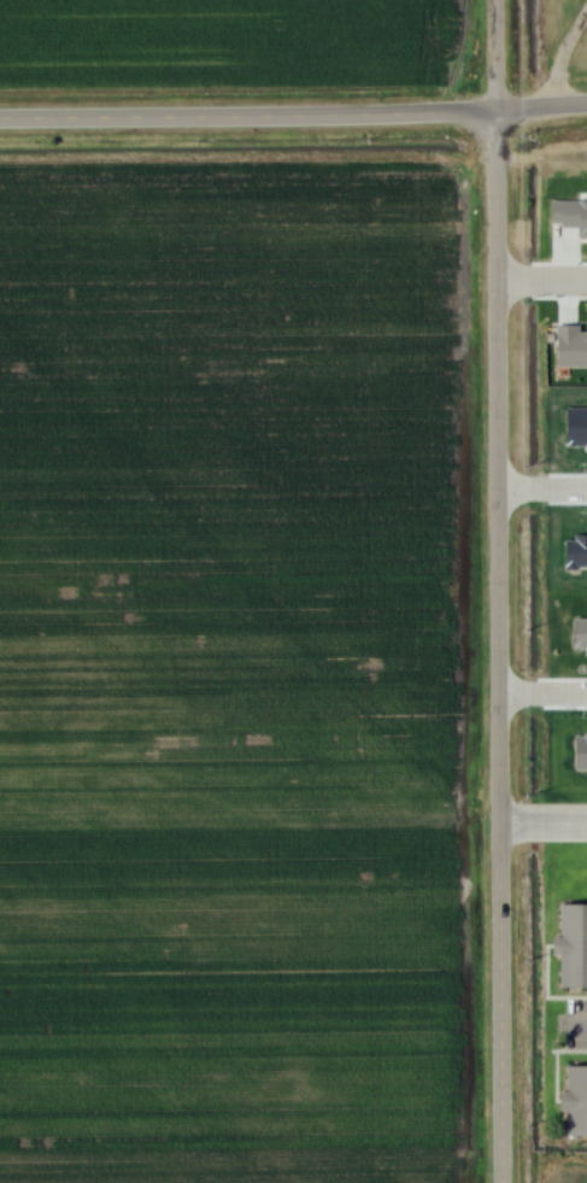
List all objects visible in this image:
road: (494, 55)
road: (562, 58)
road: (541, 107)
road: (247, 115)
building: (568, 215)
road: (541, 285)
building: (567, 345)
road: (497, 463)
road: (542, 487)
crop: (227, 656)
road: (542, 697)
road: (544, 818)
building: (567, 944)
road: (500, 1000)
road: (582, 1023)
building: (570, 1101)
crop: (575, 1172)

